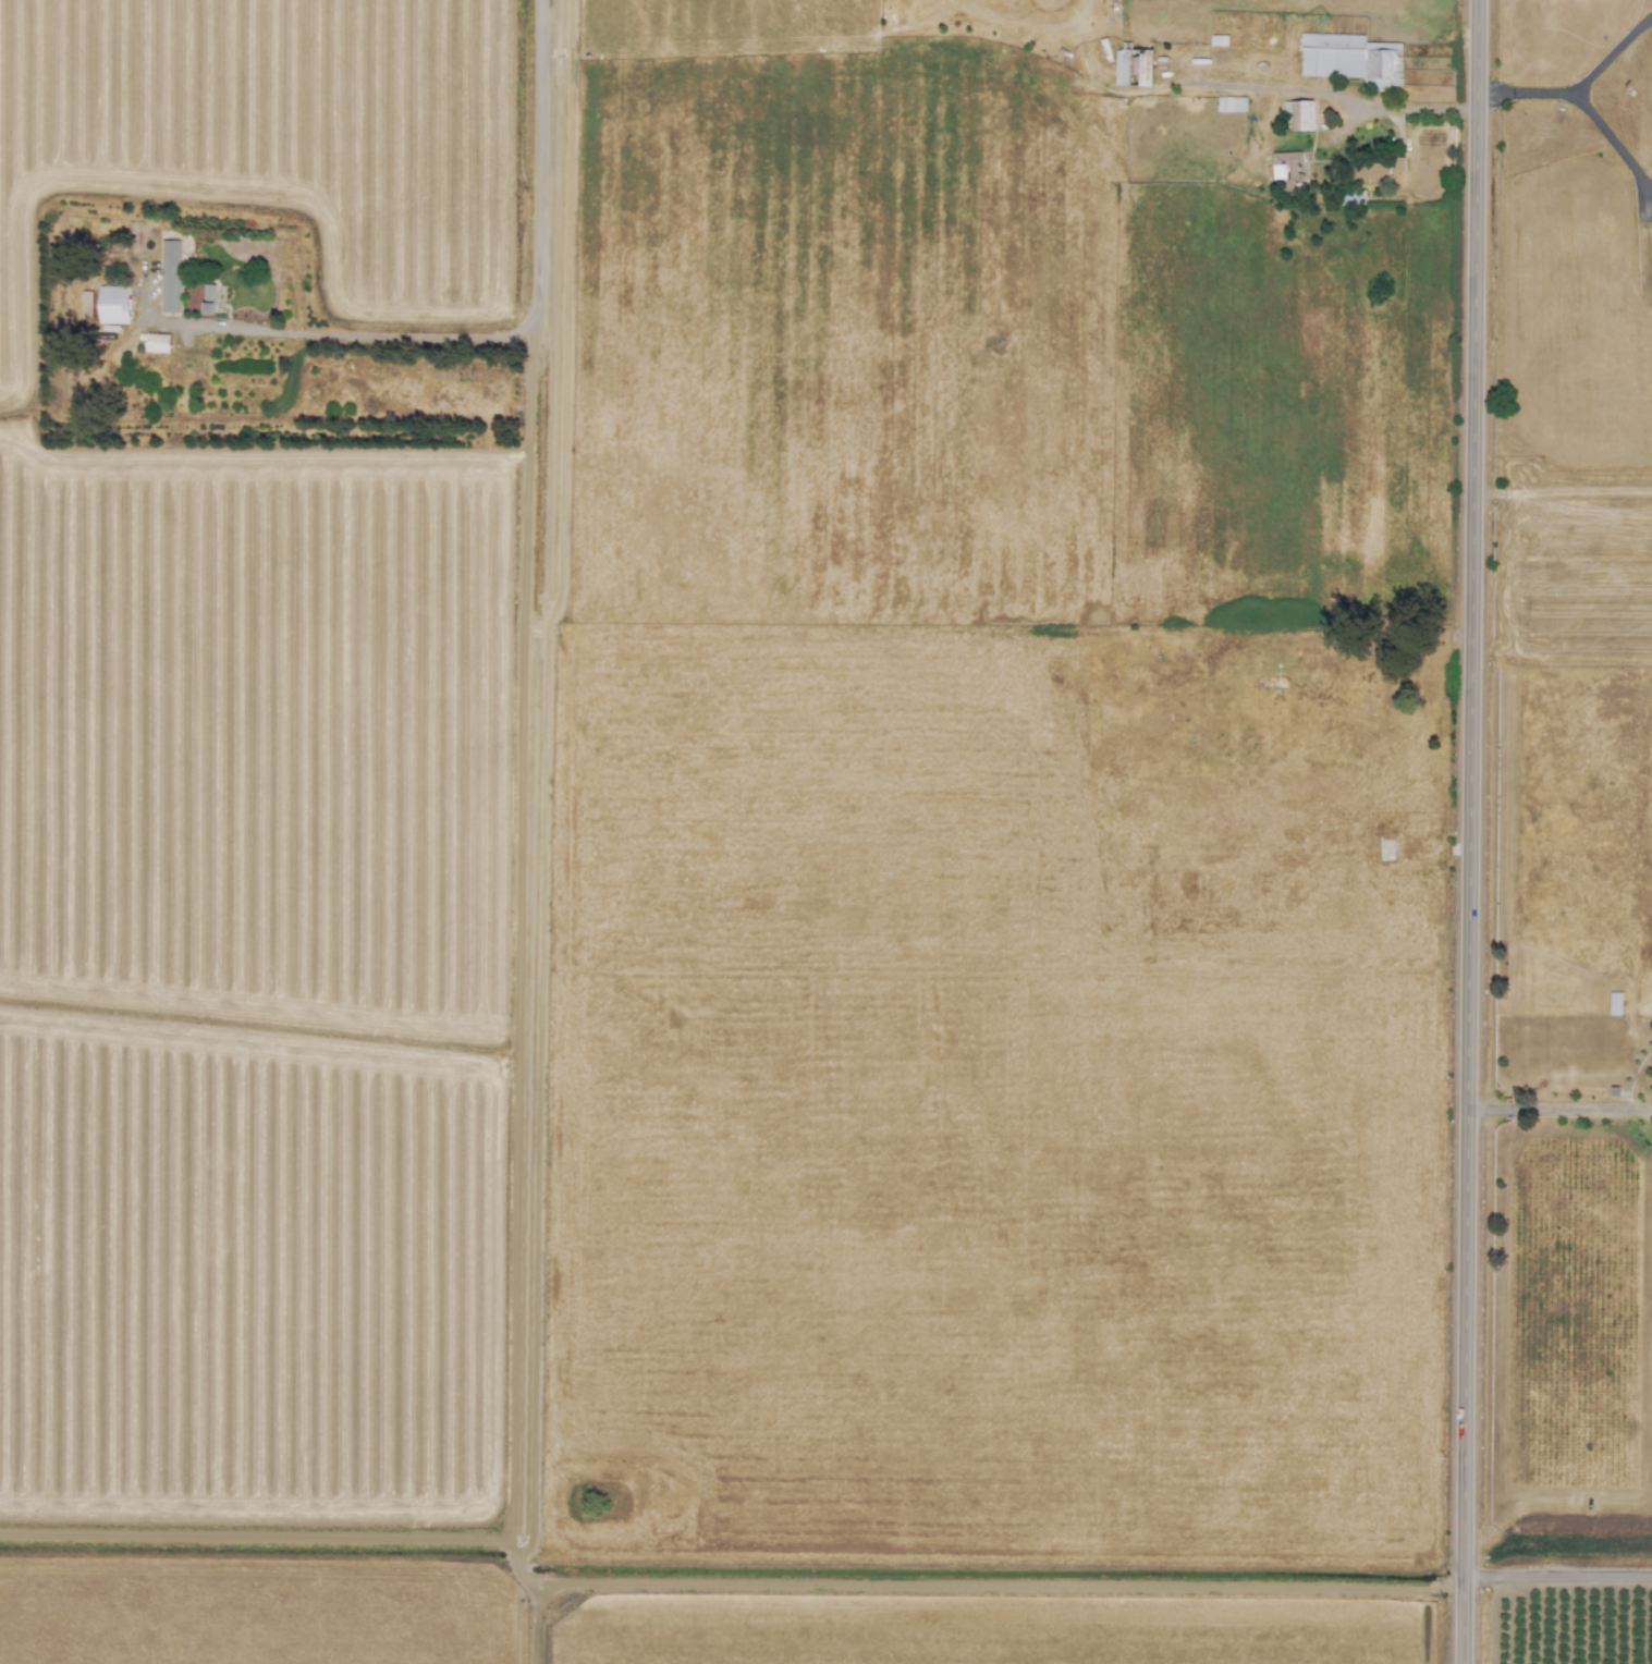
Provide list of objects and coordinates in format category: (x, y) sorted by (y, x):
building: (1351, 59)
building: (1133, 65)
road: (1515, 89)
road: (1333, 93)
road: (1567, 97)
building: (1299, 114)
building: (1288, 169)
building: (1373, 172)
building: (1351, 197)
building: (170, 277)
building: (209, 291)
road: (561, 303)
building: (86, 304)
building: (113, 304)
road: (530, 320)
building: (155, 343)
road: (1348, 648)
road: (1465, 832)
building: (1615, 1003)
road: (1555, 1108)
road: (1556, 1580)
road: (718, 1590)

